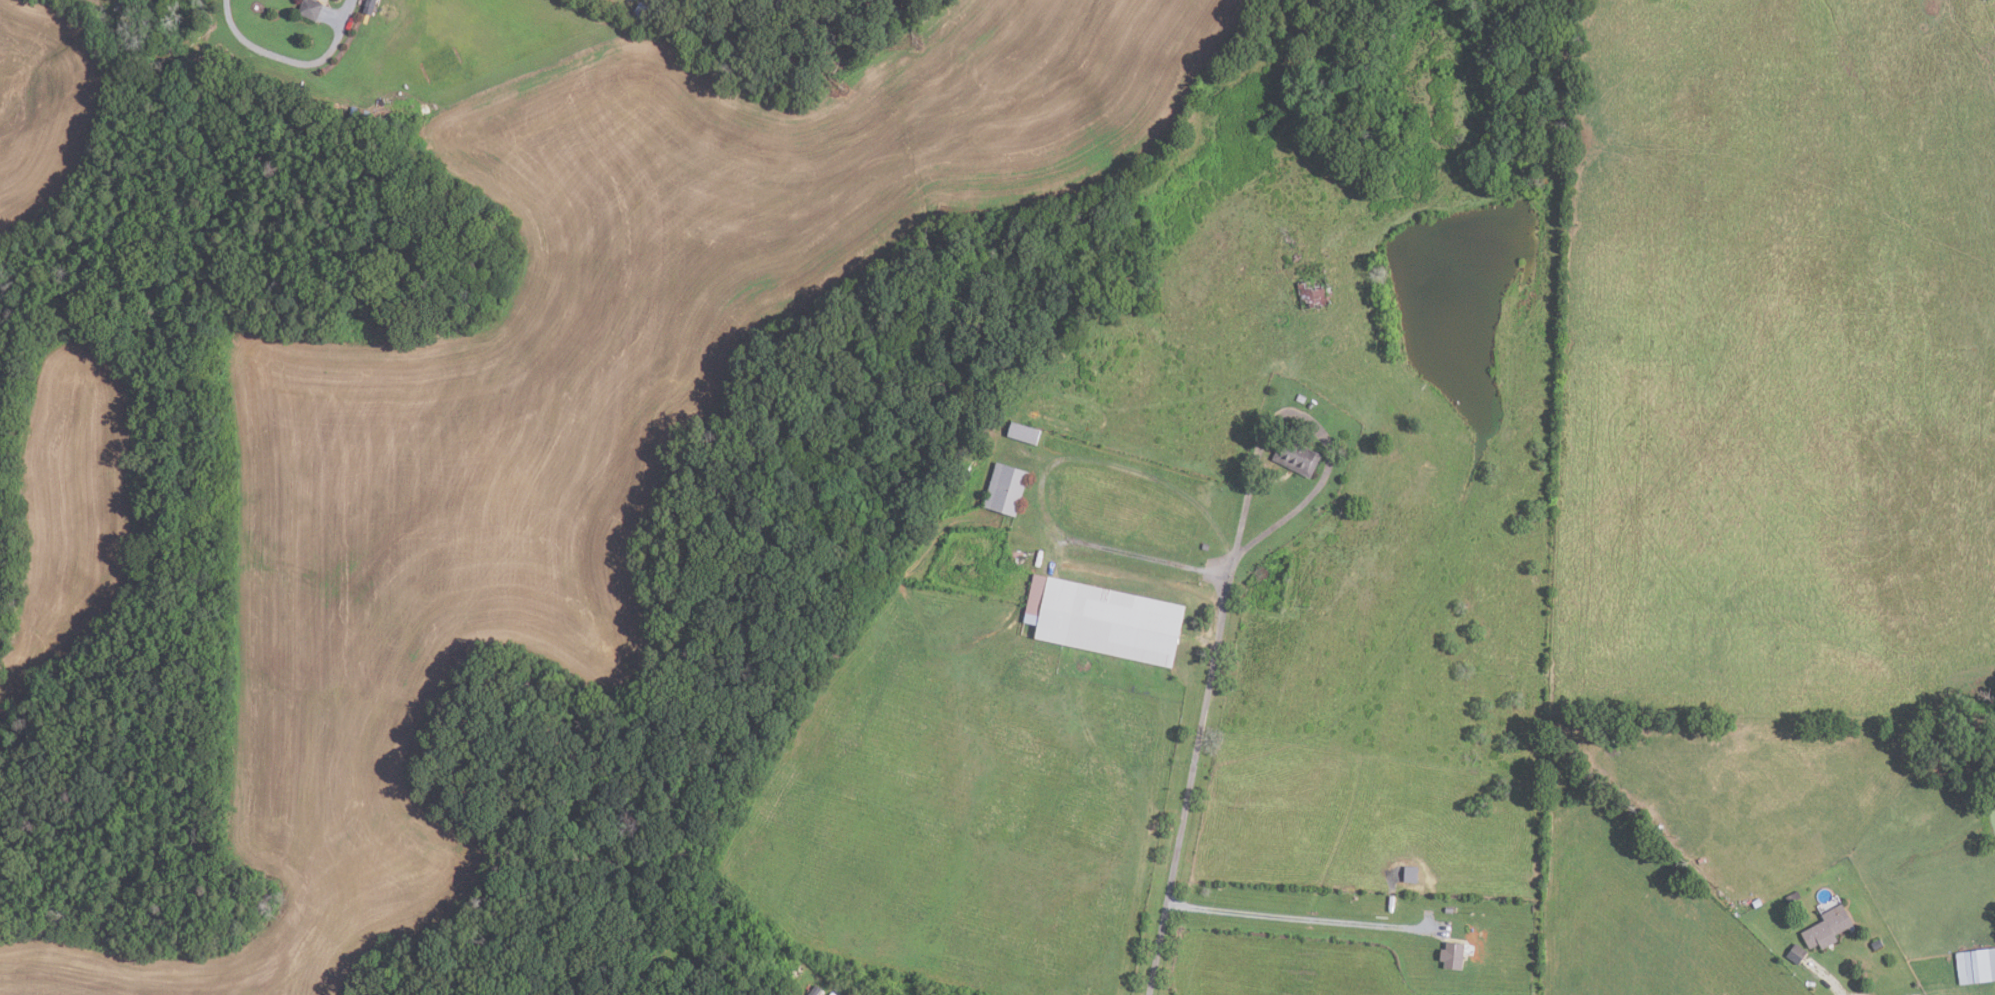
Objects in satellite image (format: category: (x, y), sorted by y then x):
building: (310, 9)
road: (288, 59)
crop: (45, 99)
building: (1313, 294)
building: (1301, 398)
building: (1311, 405)
road: (1307, 418)
crop: (578, 419)
building: (1024, 433)
building: (1297, 458)
road: (1044, 480)
building: (1006, 489)
crop: (70, 499)
building: (1205, 547)
building: (1105, 618)
road: (1190, 774)
building: (1793, 896)
building: (1747, 907)
building: (1449, 910)
road: (1302, 918)
building: (1827, 927)
building: (1877, 943)
building: (1797, 953)
building: (1453, 955)
building: (1976, 964)
crop: (1284, 966)
road: (1830, 985)

